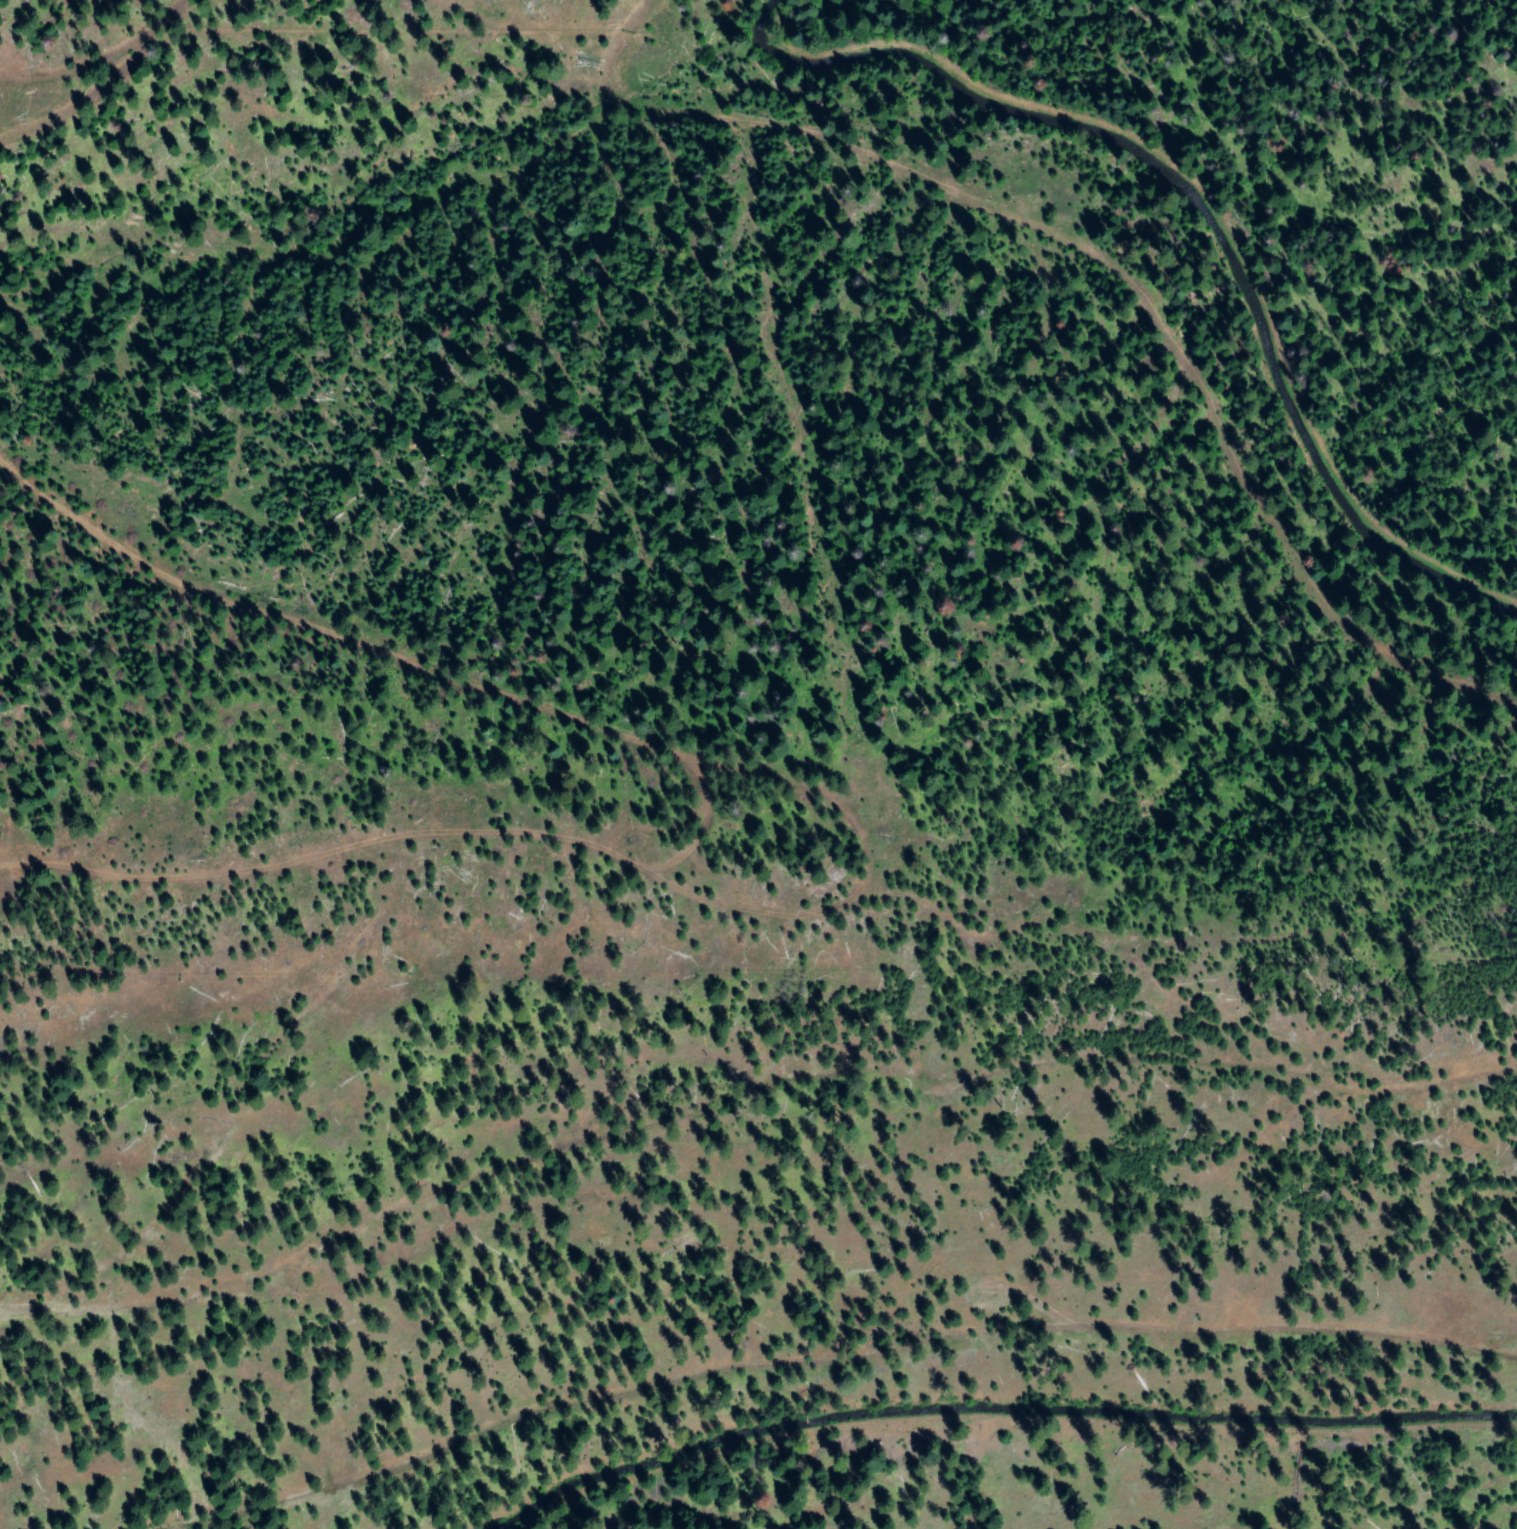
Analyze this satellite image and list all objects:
road: (91, 100)
road: (1116, 307)
road: (742, 805)
road: (835, 1369)

